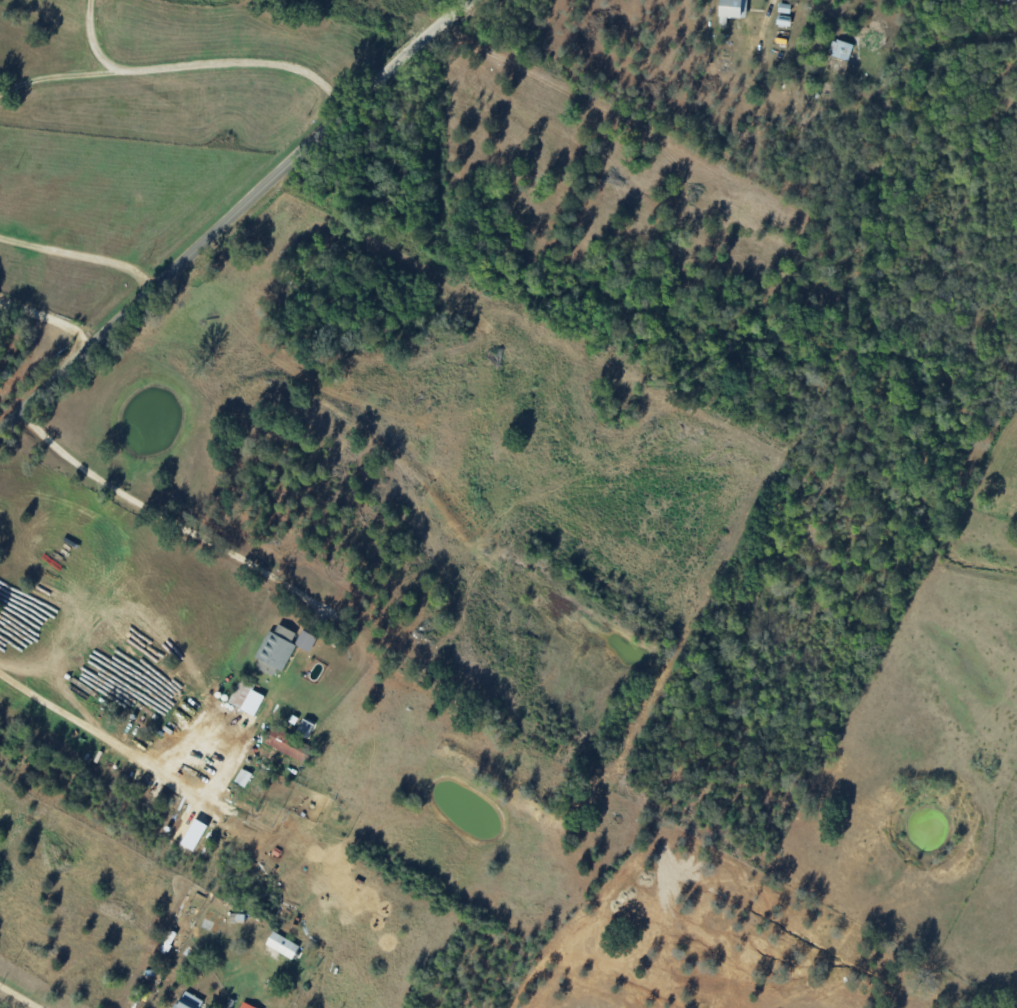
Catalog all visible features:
road: (767, 3)
building: (732, 8)
road: (92, 40)
building: (840, 49)
road: (179, 64)
road: (237, 217)
road: (84, 255)
road: (48, 328)
road: (175, 522)
building: (305, 640)
building: (275, 649)
road: (80, 732)
building: (287, 745)
building: (243, 777)
building: (282, 944)
building: (187, 1001)
road: (9, 1002)
building: (246, 1005)

